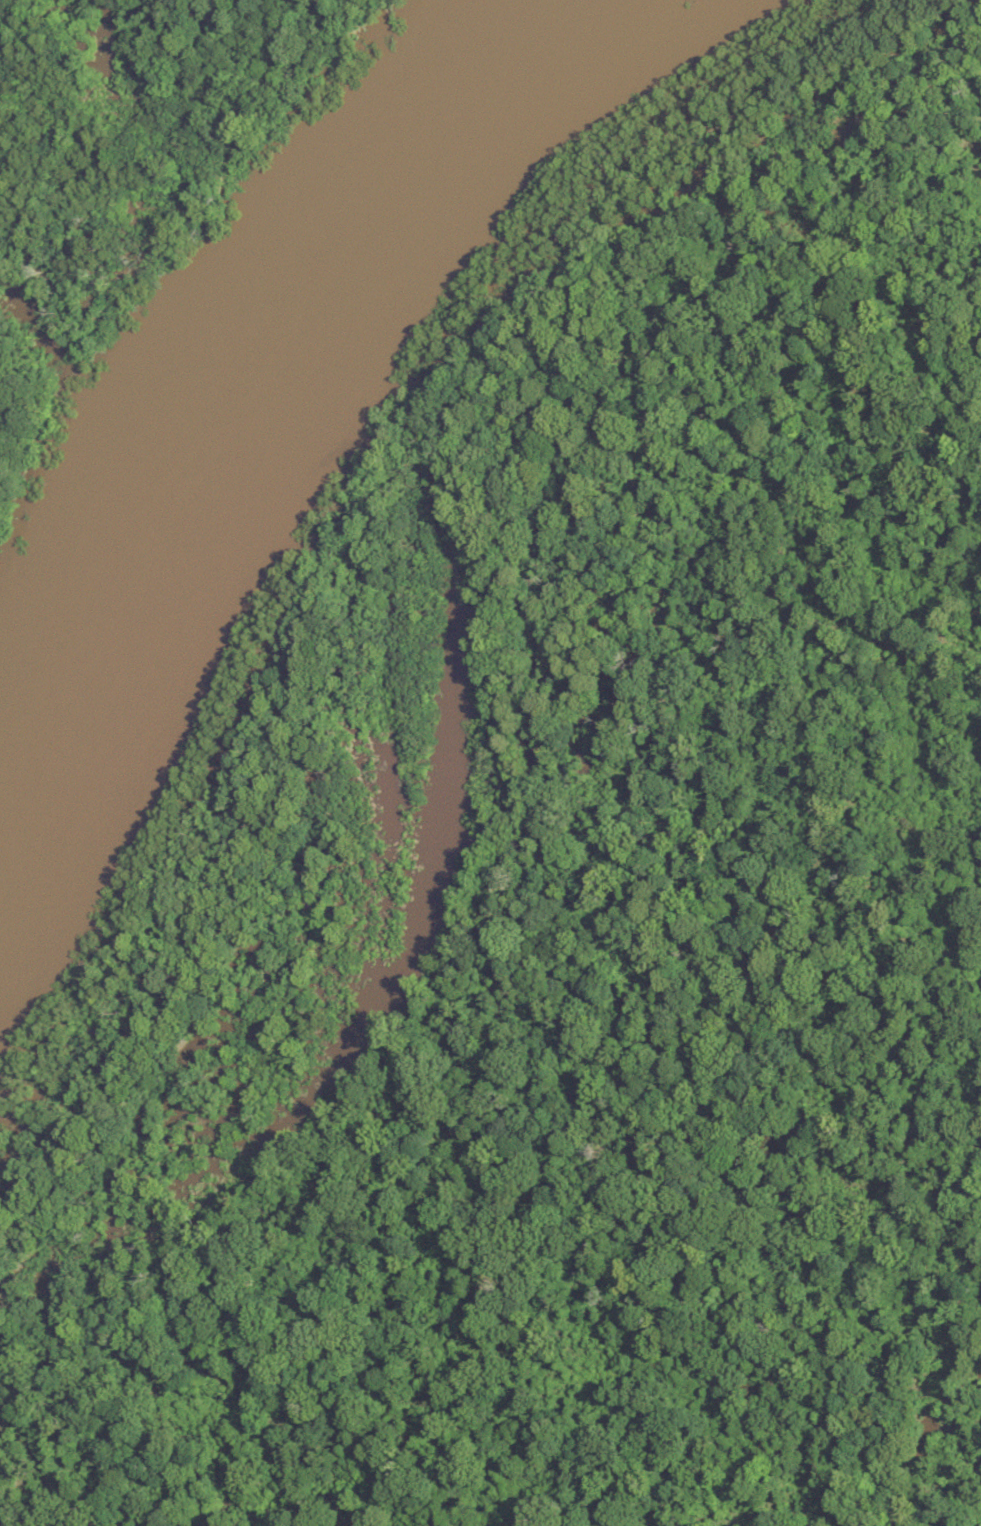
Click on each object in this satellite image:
river: (261, 360)

